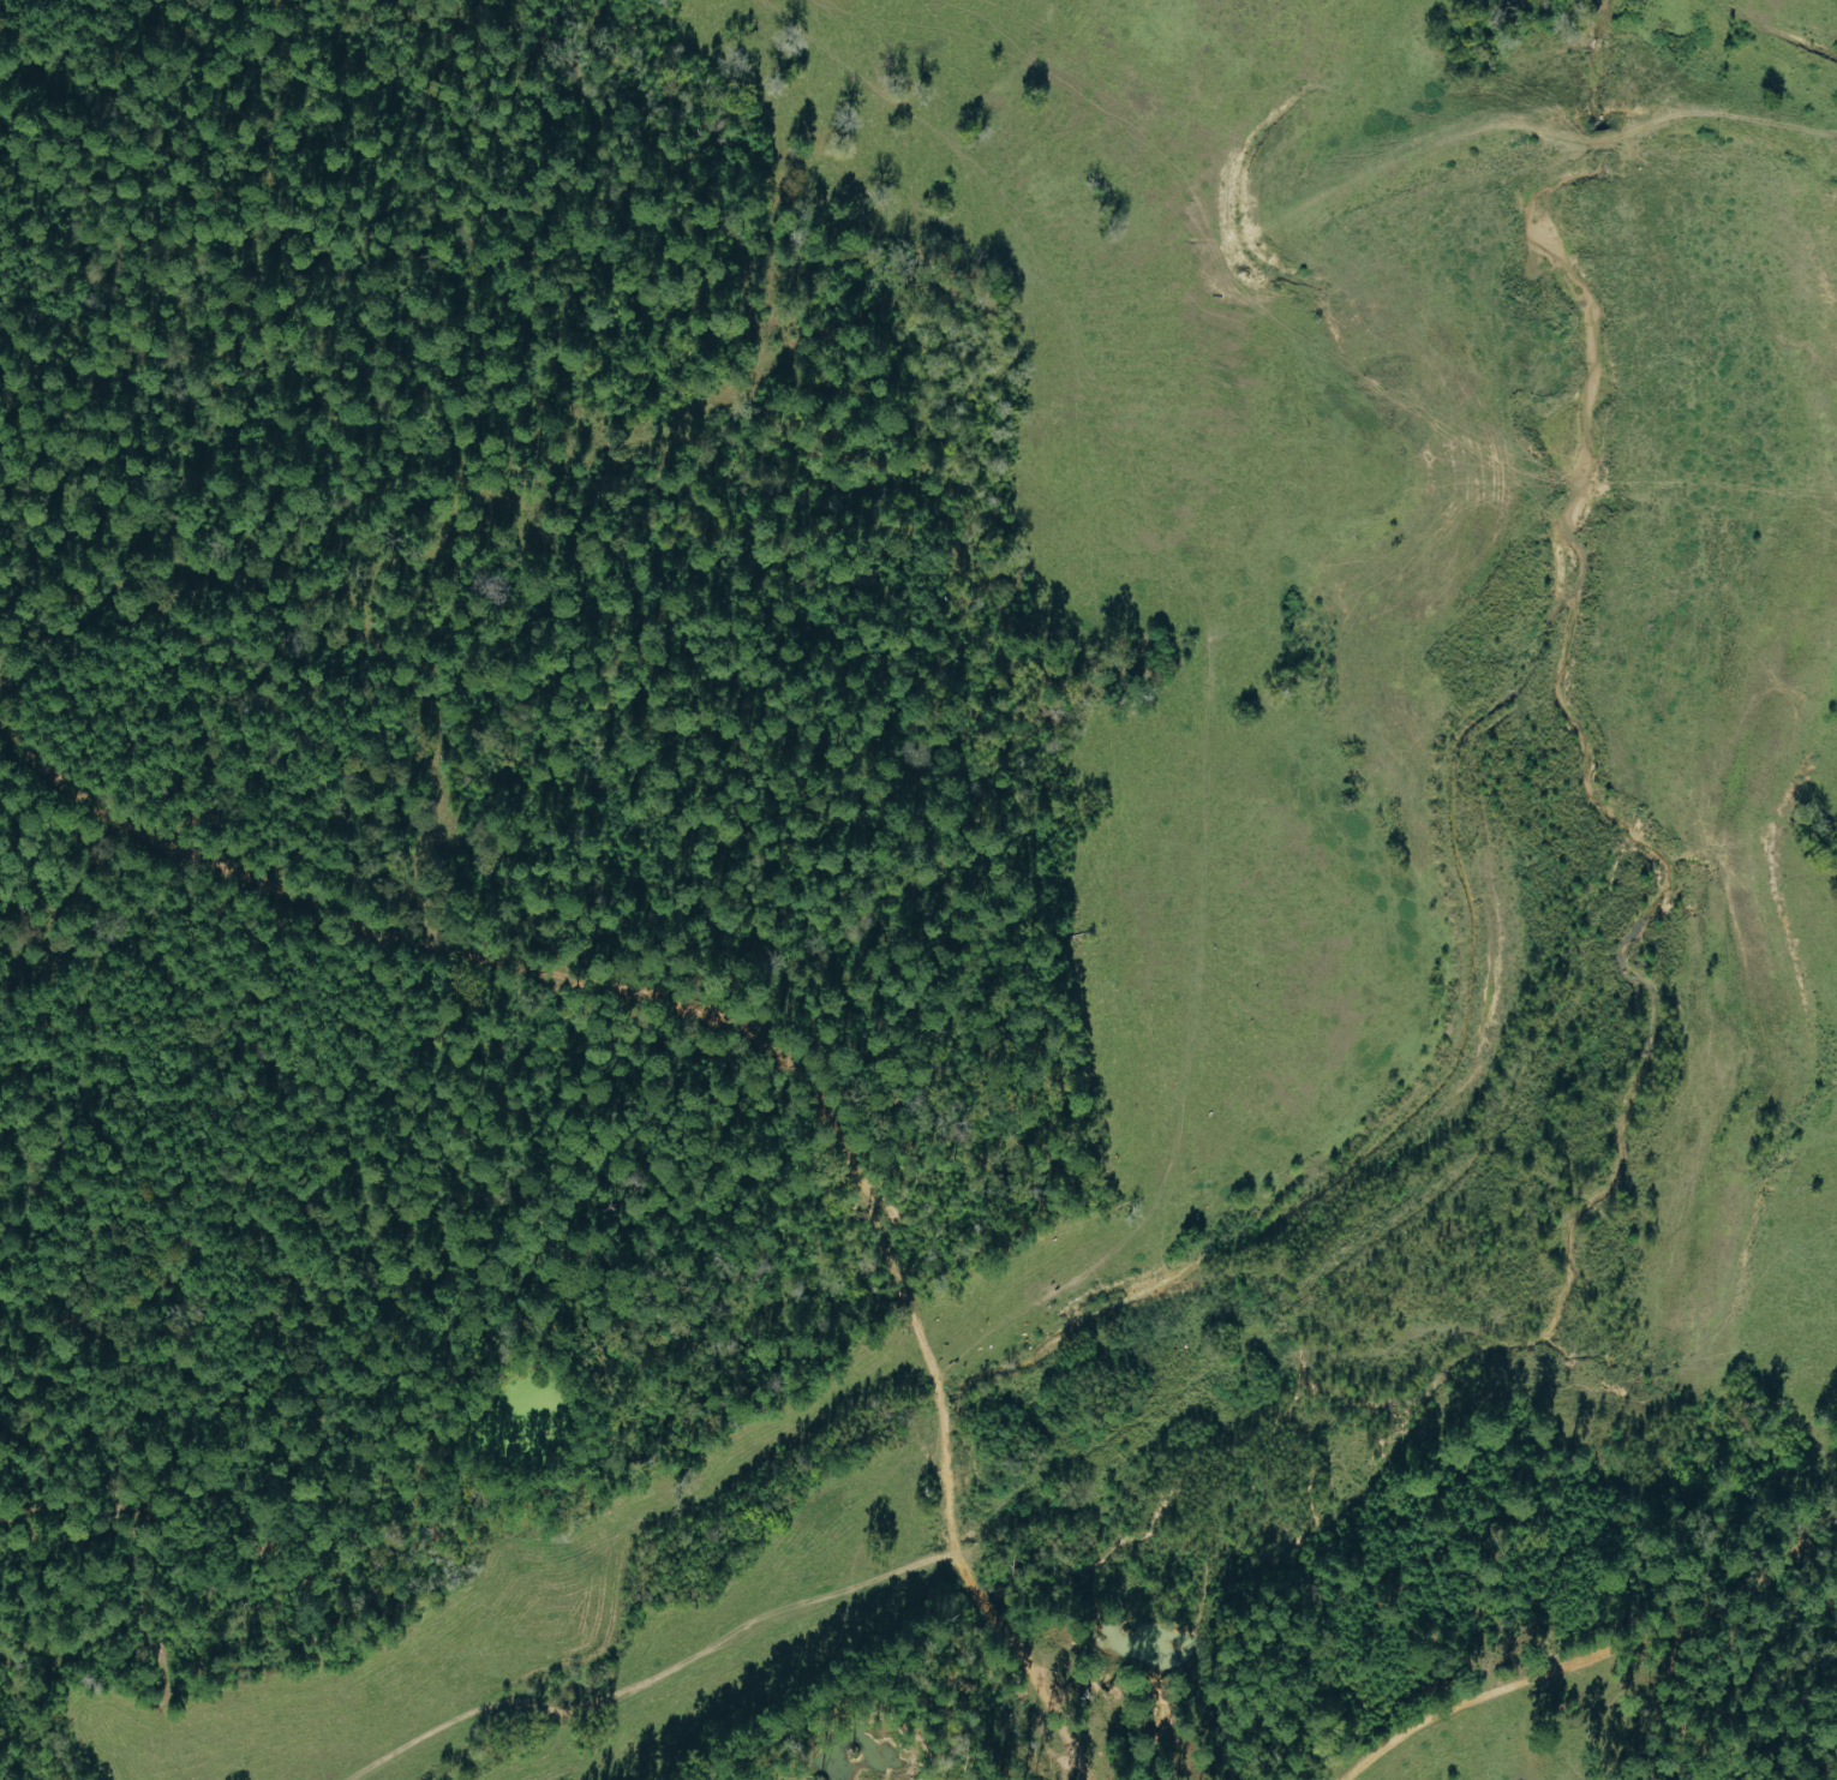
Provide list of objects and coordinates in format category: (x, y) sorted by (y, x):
road: (1574, 1637)

